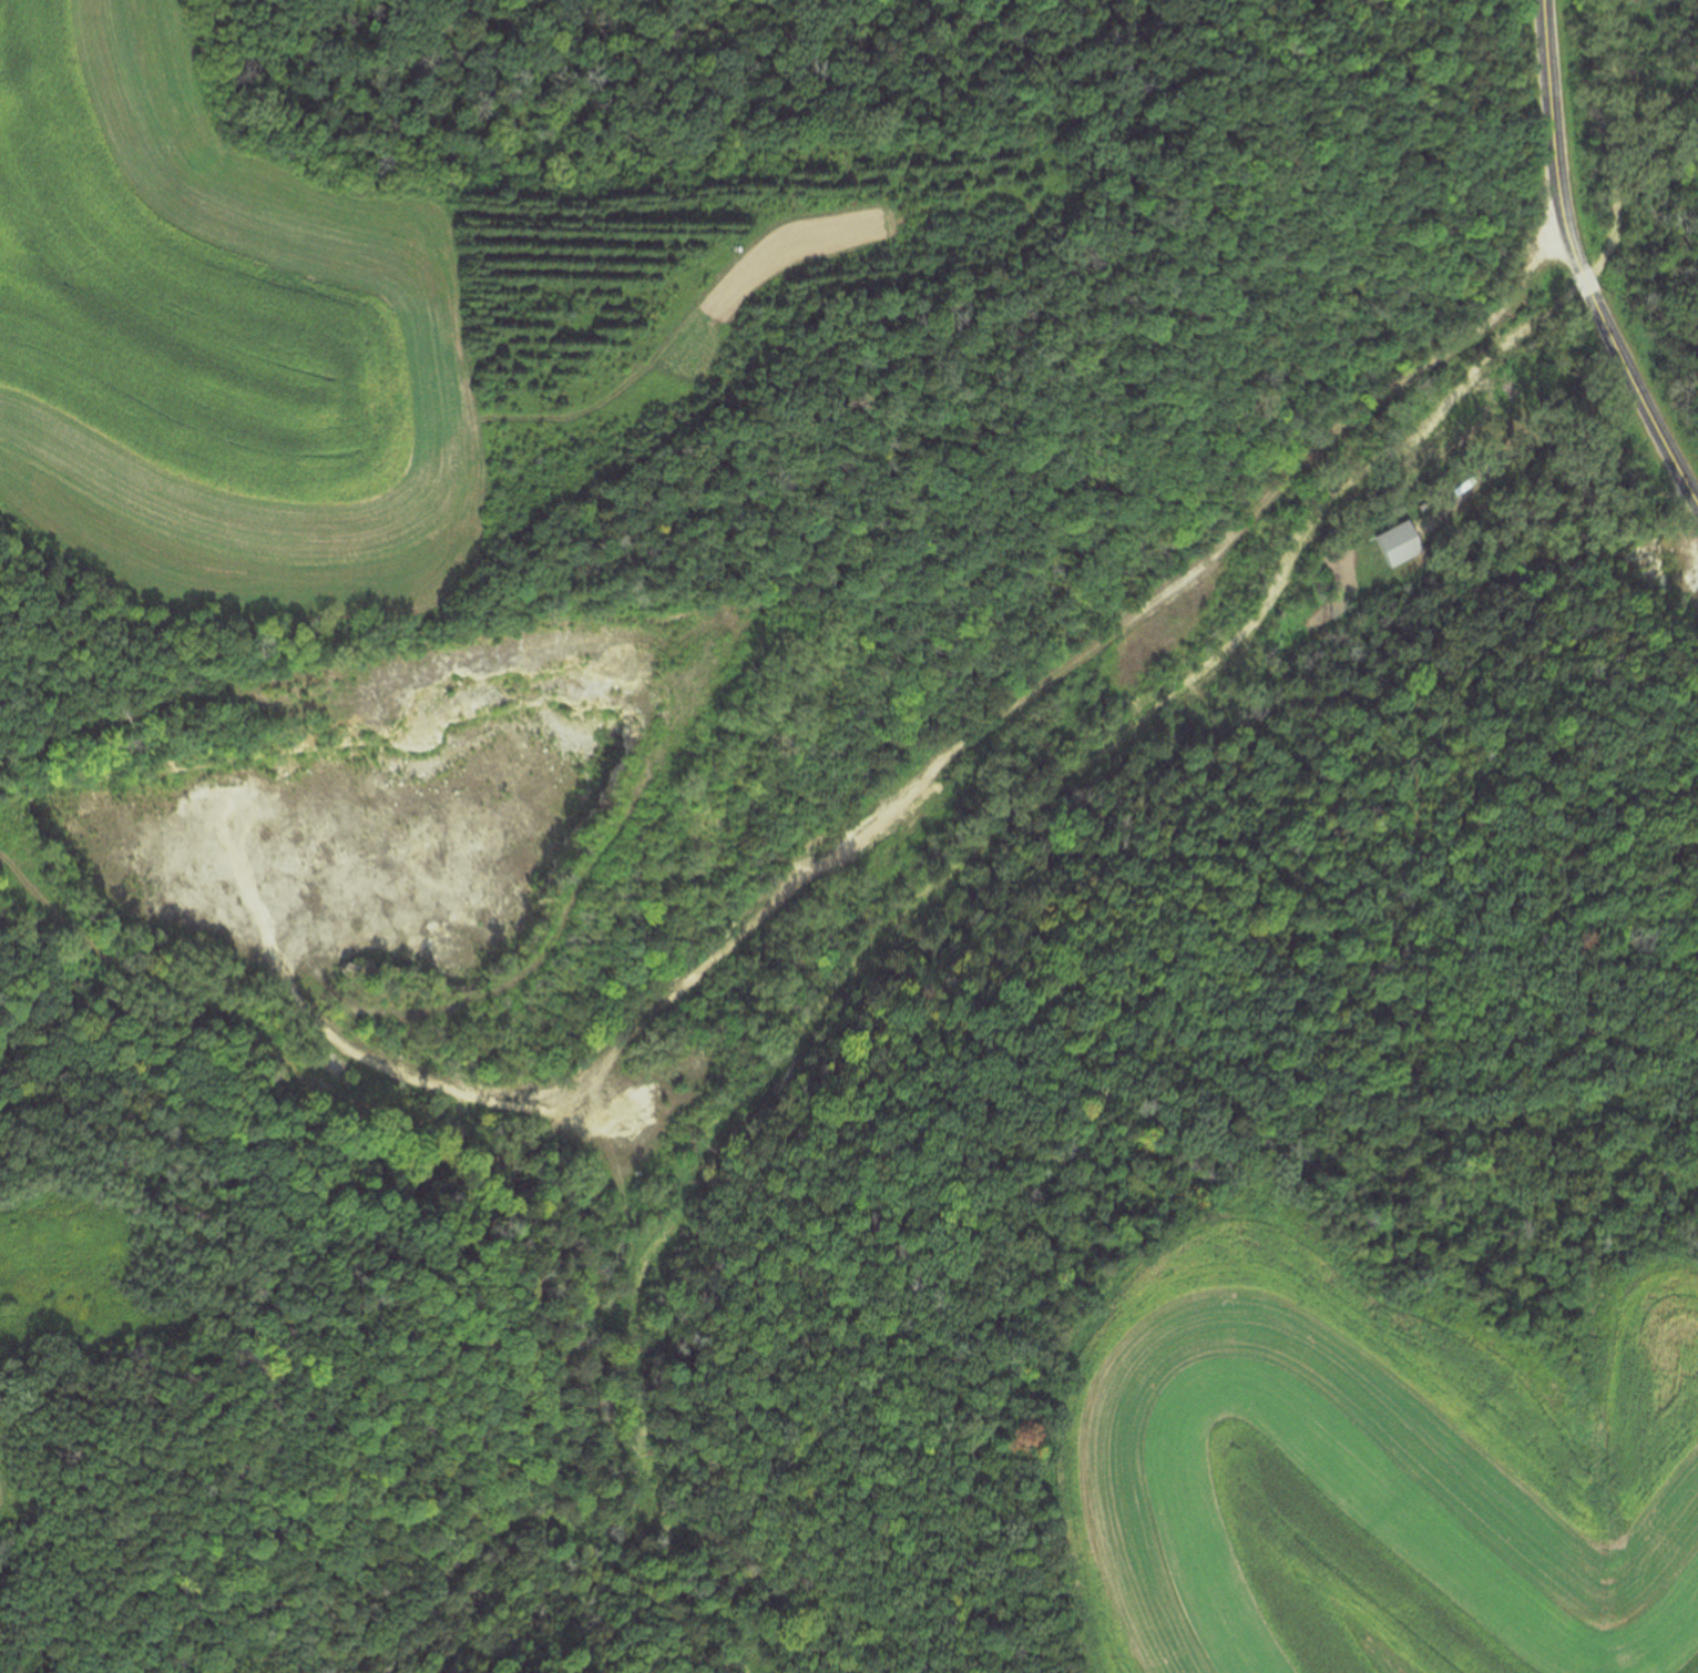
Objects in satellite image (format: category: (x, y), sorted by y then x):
road: (1575, 267)
building: (1462, 489)
road: (922, 676)

